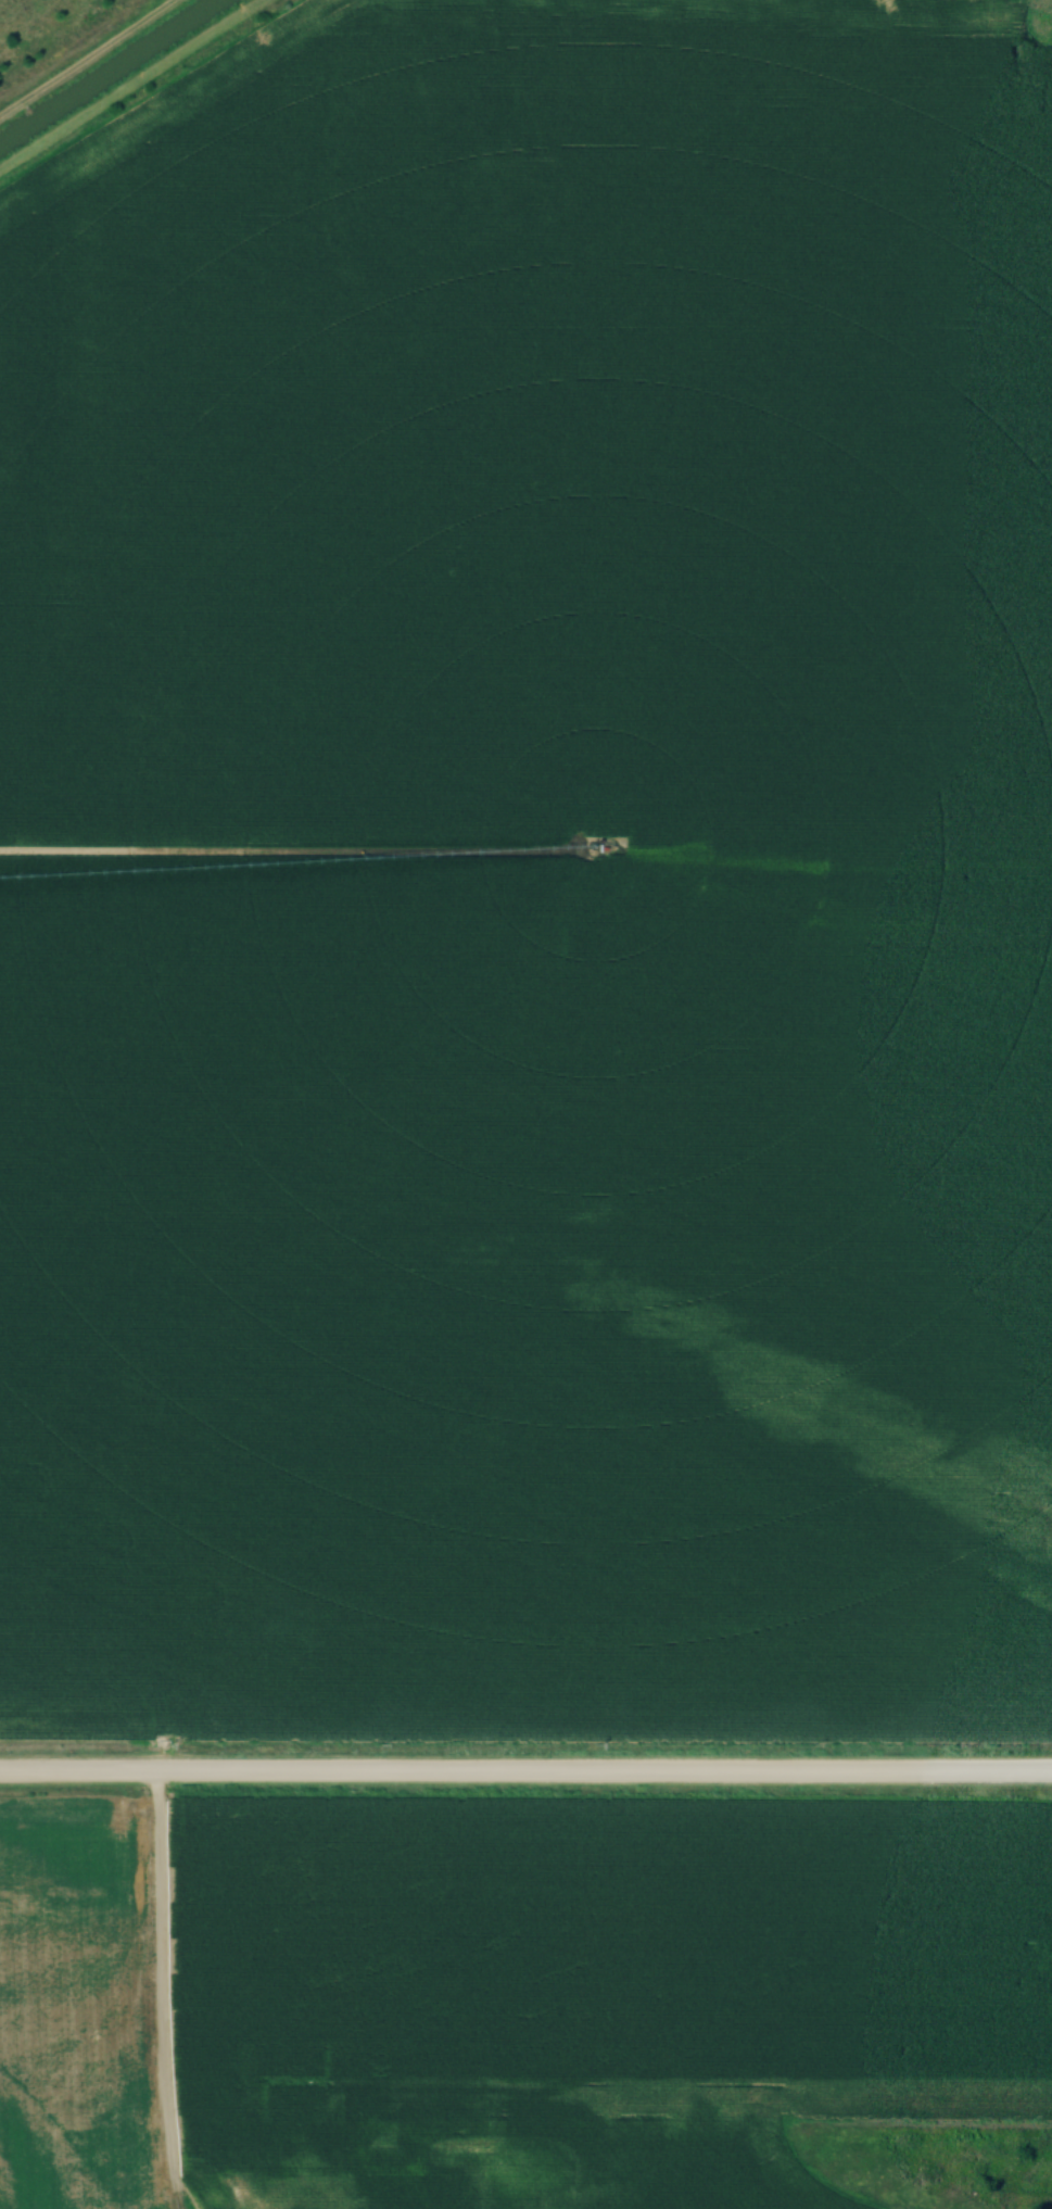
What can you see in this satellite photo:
road: (525, 1771)

